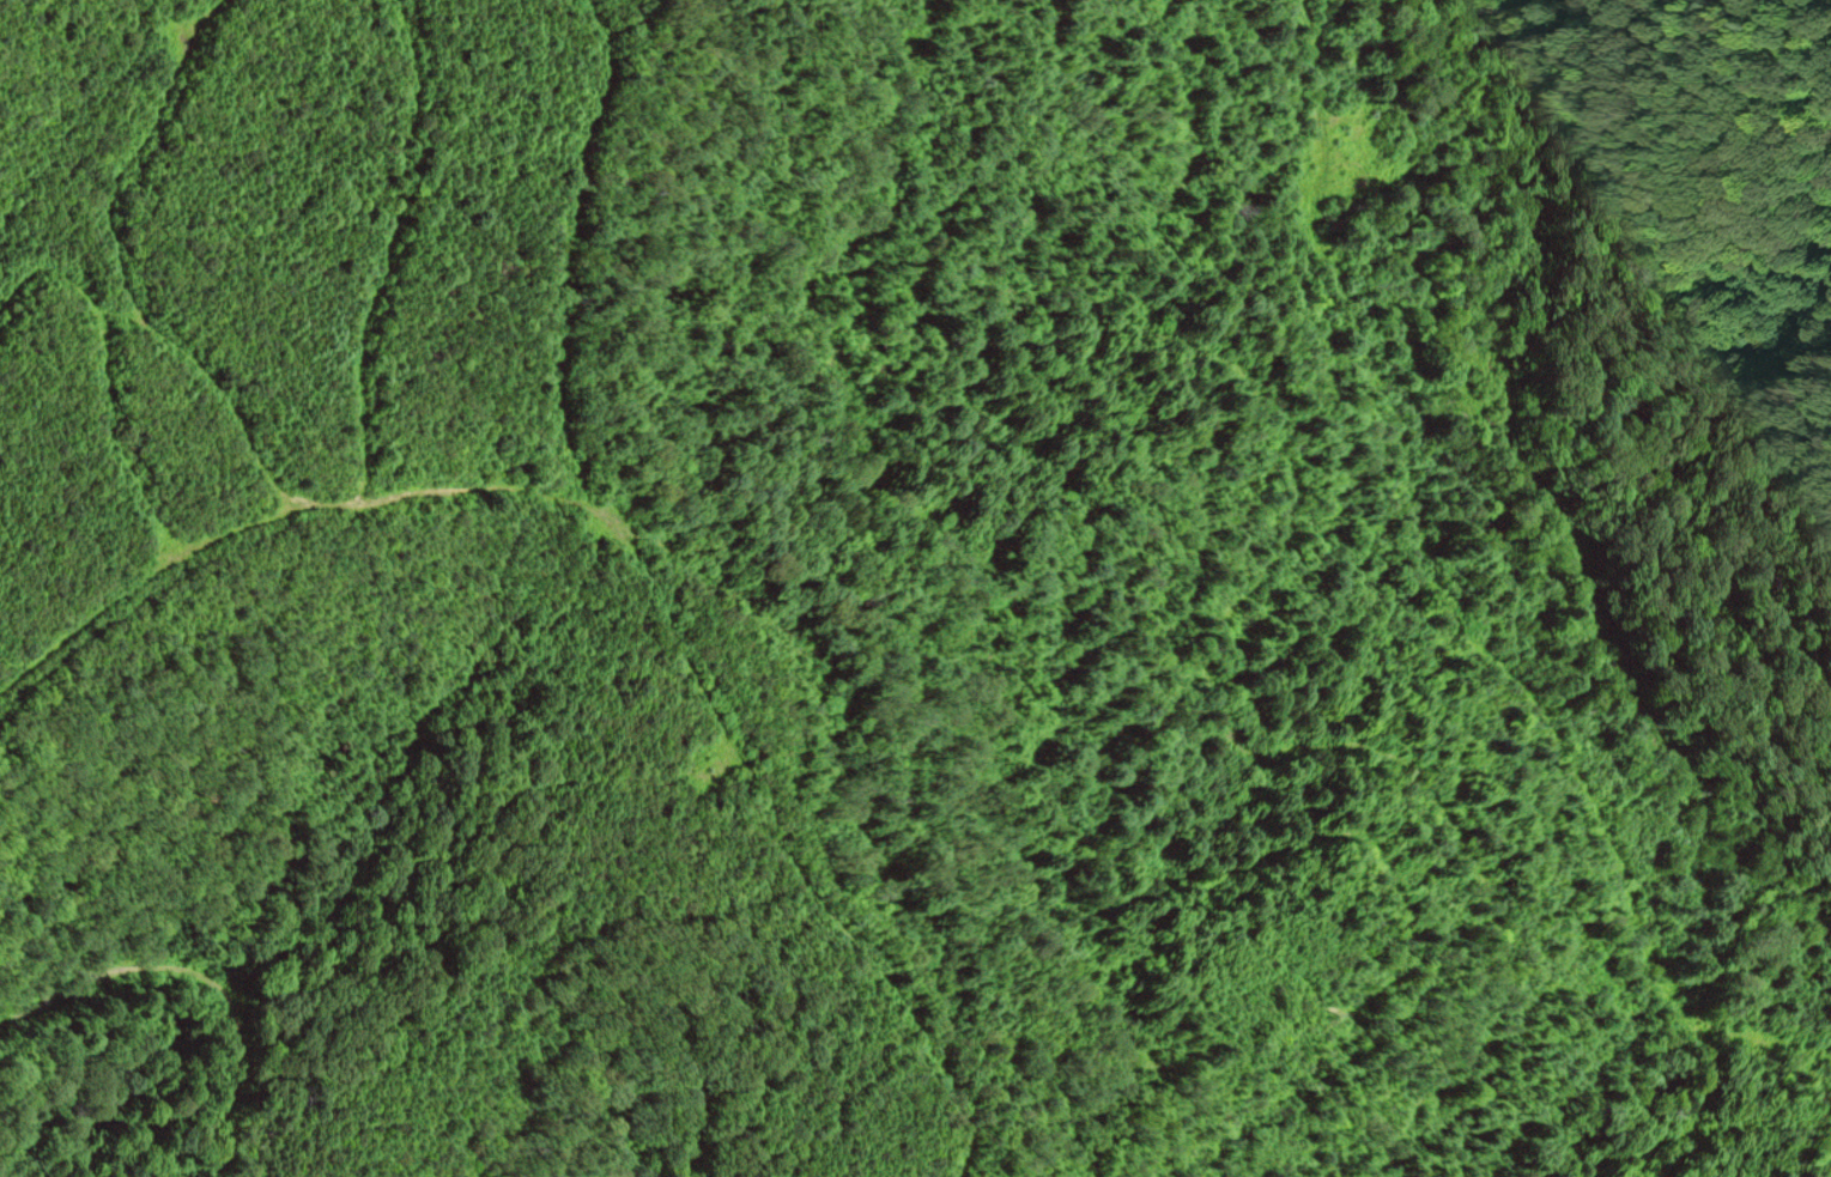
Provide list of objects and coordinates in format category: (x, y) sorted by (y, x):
road: (199, 981)

